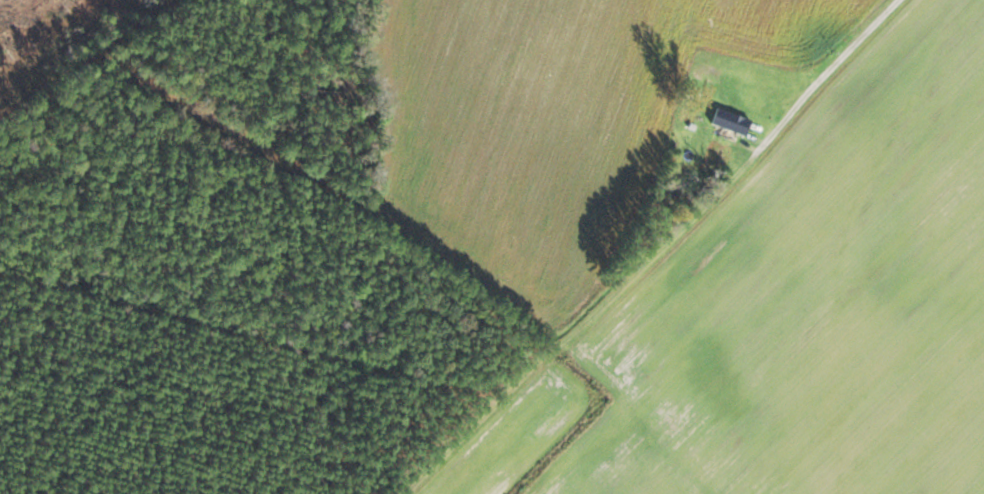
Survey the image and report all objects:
building: (729, 122)
building: (719, 156)

